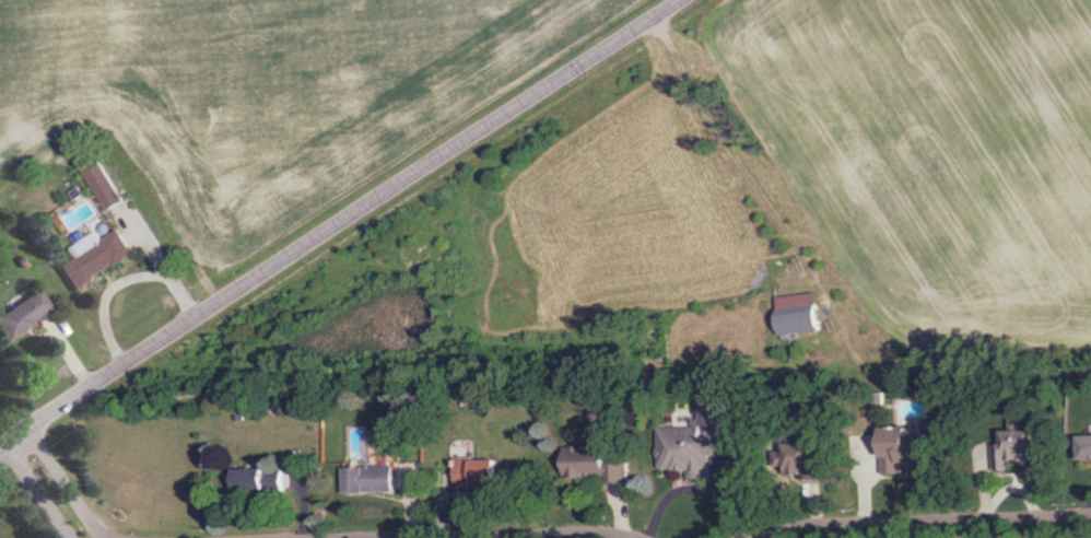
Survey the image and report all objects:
building: (101, 182)
road: (338, 221)
building: (94, 259)
building: (797, 311)
building: (22, 314)
building: (693, 442)
building: (1018, 442)
building: (1086, 448)
building: (901, 449)
building: (794, 457)
building: (595, 461)
building: (477, 473)
building: (369, 479)
building: (259, 480)
road: (54, 484)
road: (689, 484)
road: (943, 530)

